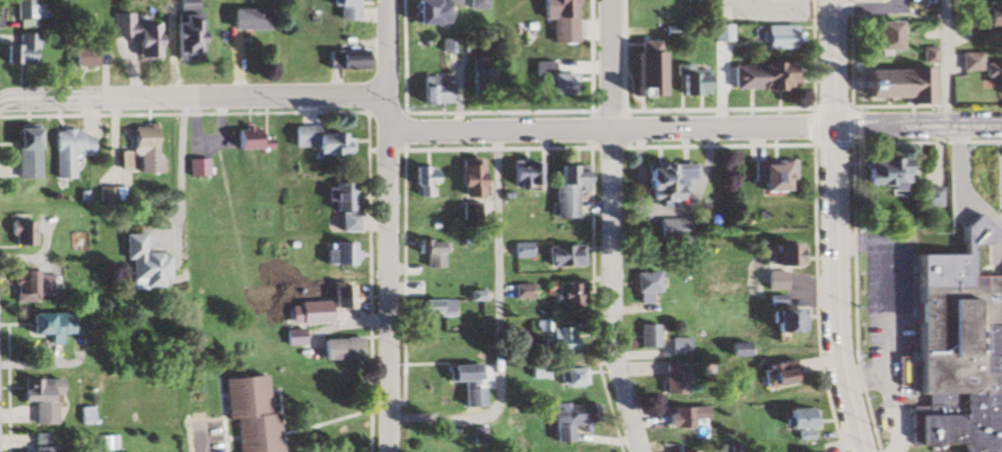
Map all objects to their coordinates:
building: (476, 4)
building: (343, 9)
building: (424, 12)
park: (663, 12)
building: (35, 14)
building: (557, 19)
building: (259, 20)
building: (983, 21)
building: (196, 30)
building: (720, 33)
building: (144, 34)
building: (778, 37)
building: (880, 38)
building: (31, 50)
building: (92, 57)
building: (342, 60)
road: (944, 66)
building: (642, 69)
building: (763, 77)
building: (549, 80)
building: (689, 81)
building: (993, 81)
building: (472, 84)
building: (894, 86)
building: (431, 95)
road: (192, 96)
road: (609, 129)
road: (916, 130)
building: (258, 139)
building: (318, 140)
building: (152, 151)
building: (79, 152)
building: (38, 154)
building: (205, 167)
building: (519, 172)
building: (882, 173)
road: (183, 174)
building: (770, 174)
building: (464, 176)
building: (661, 178)
building: (421, 179)
building: (564, 187)
building: (340, 203)
building: (466, 210)
road: (387, 225)
road: (613, 227)
building: (665, 227)
road: (835, 227)
building: (23, 232)
building: (427, 251)
building: (338, 252)
building: (783, 253)
building: (558, 255)
building: (145, 264)
building: (774, 280)
building: (31, 283)
building: (642, 287)
building: (517, 291)
building: (559, 293)
building: (341, 295)
building: (472, 295)
building: (773, 300)
road: (887, 304)
building: (434, 307)
road: (495, 319)
building: (785, 319)
building: (47, 323)
building: (290, 335)
building: (647, 335)
building: (554, 336)
building: (681, 346)
building: (336, 347)
building: (954, 360)
building: (536, 370)
building: (776, 373)
building: (567, 376)
building: (672, 378)
building: (462, 382)
building: (36, 398)
building: (246, 413)
building: (683, 415)
building: (795, 417)
building: (569, 420)
building: (40, 442)
building: (687, 451)

